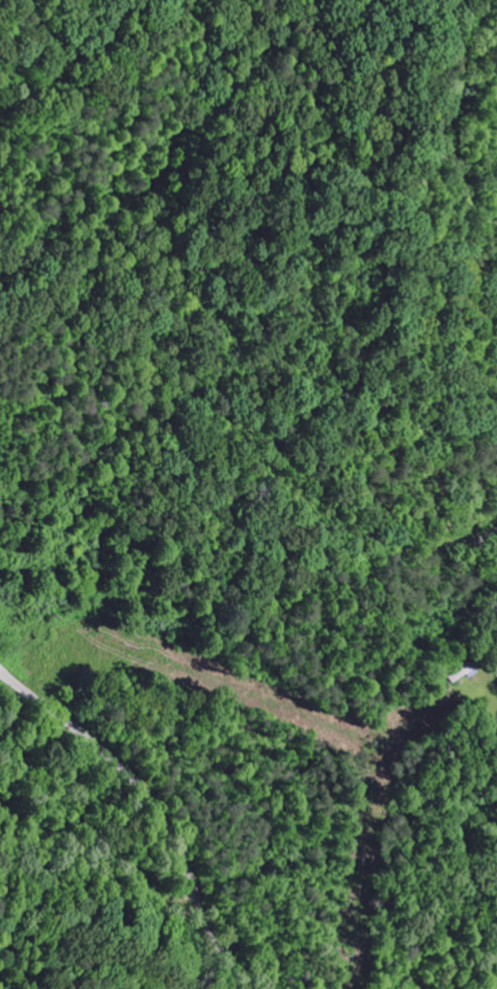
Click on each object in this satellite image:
road: (460, 144)
road: (152, 804)

